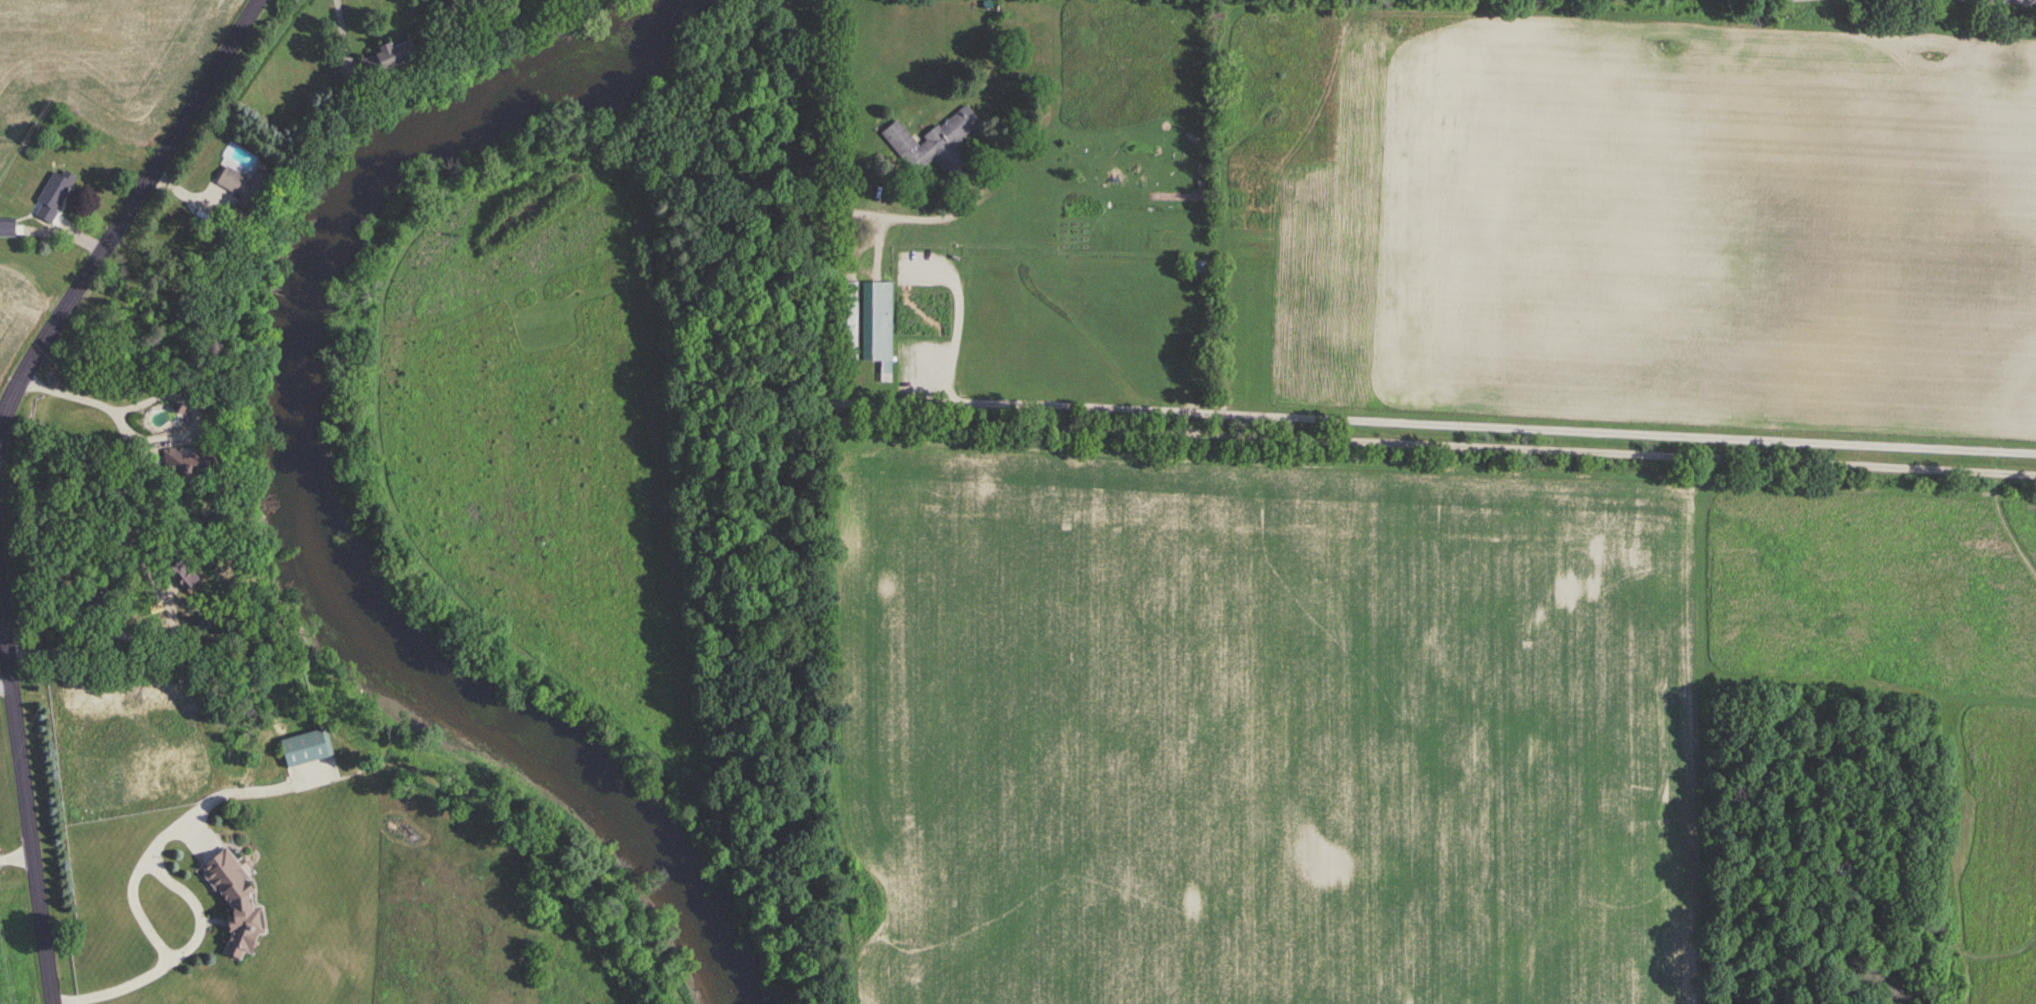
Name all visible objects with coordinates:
road: (339, 30)
building: (385, 58)
building: (932, 141)
building: (233, 181)
building: (51, 195)
road: (127, 216)
building: (6, 227)
building: (863, 321)
road: (100, 405)
road: (1435, 423)
park: (1234, 488)
river: (297, 494)
road: (100, 641)
building: (304, 747)
road: (213, 794)
road: (25, 799)
road: (16, 851)
building: (229, 903)
road: (196, 915)

